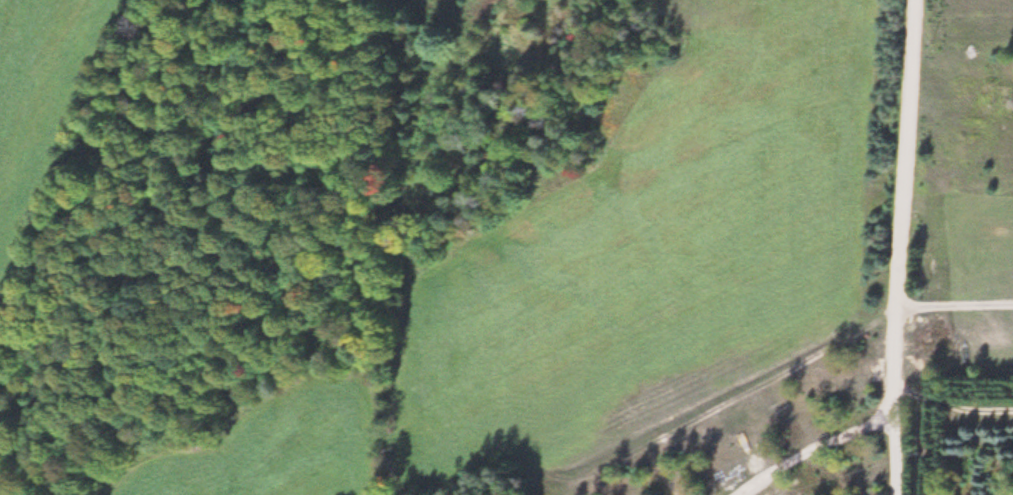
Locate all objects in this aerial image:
road: (902, 247)

